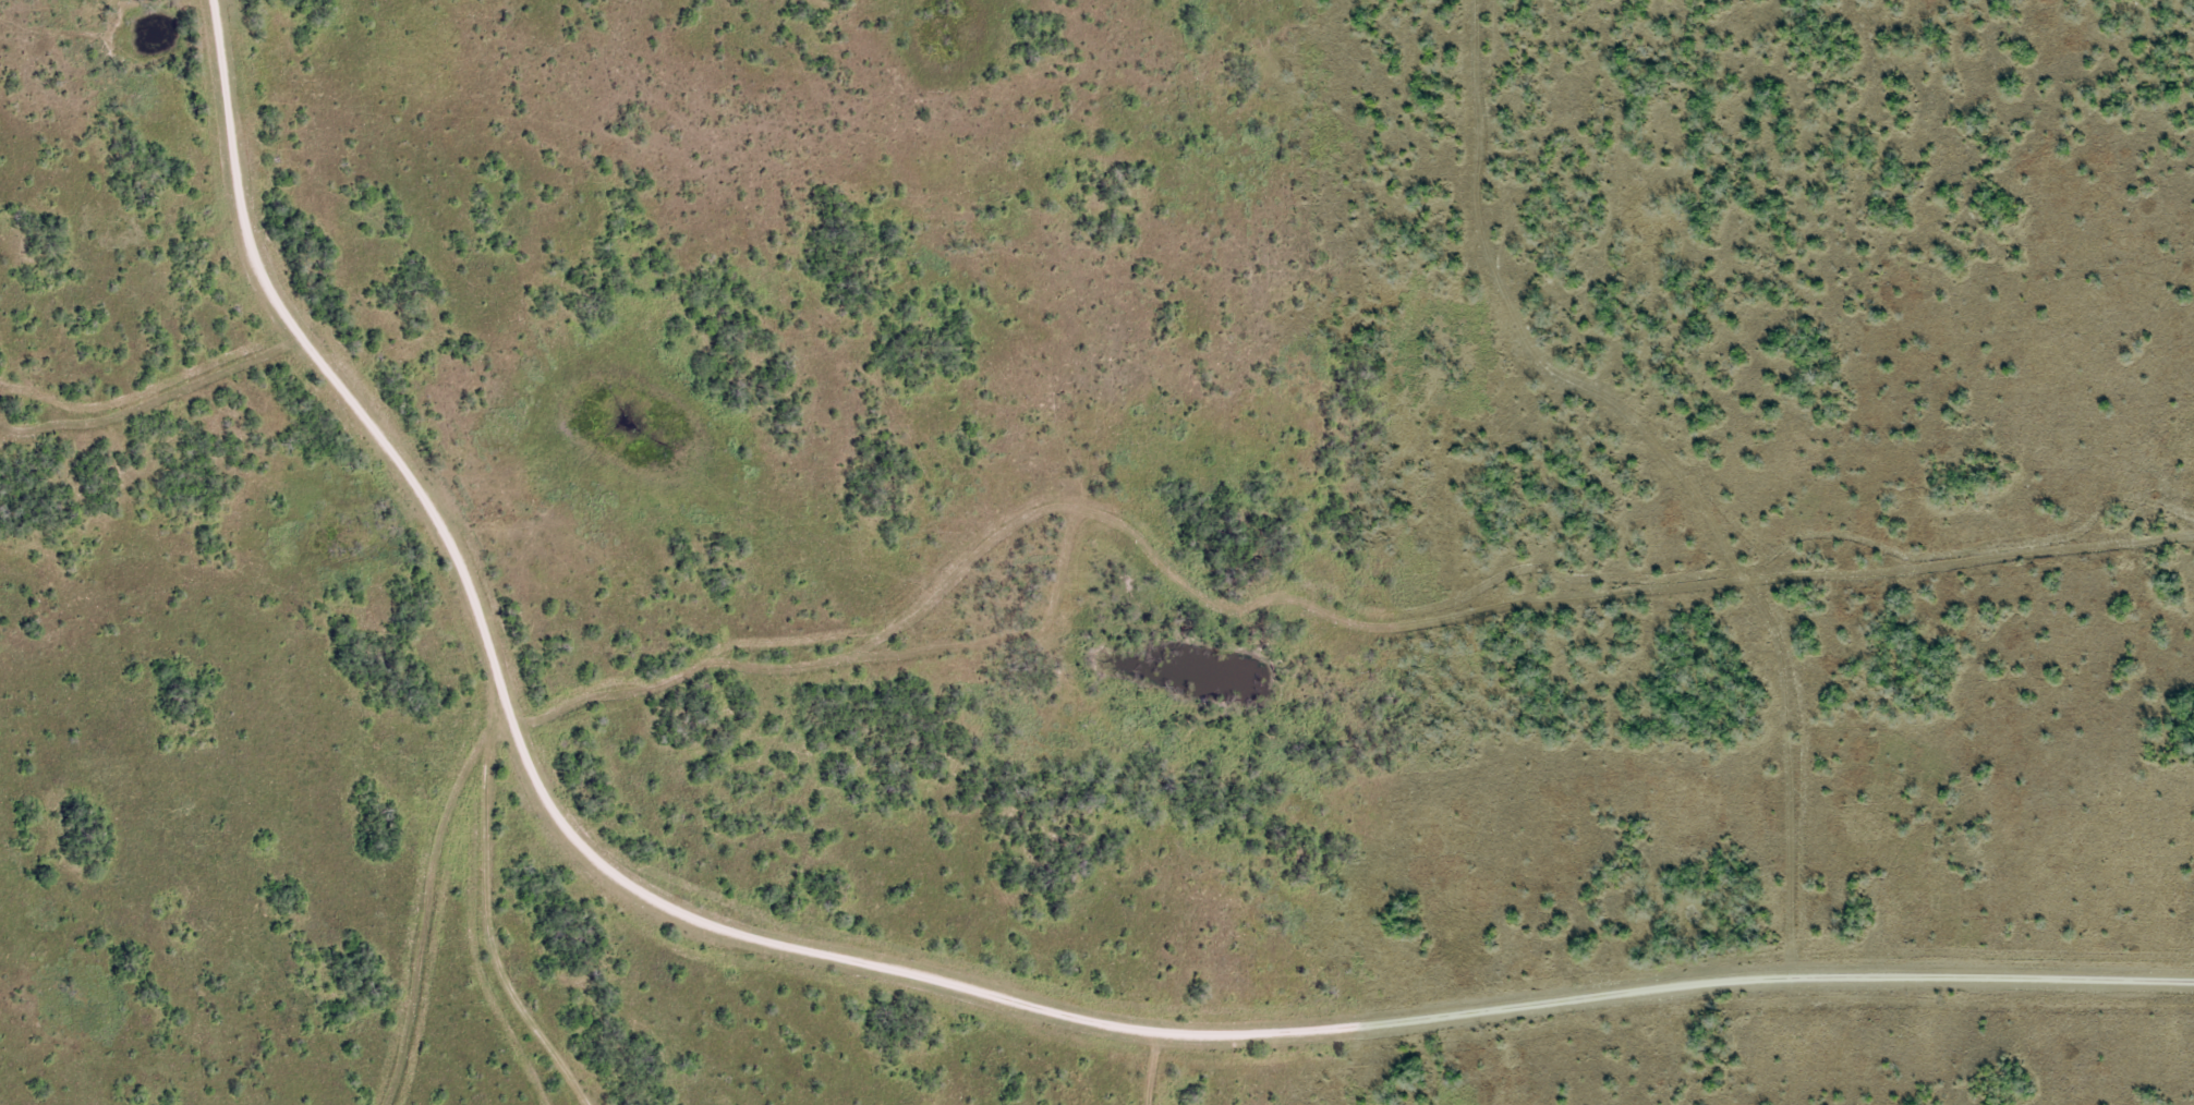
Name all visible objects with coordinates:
road: (466, 545)
road: (1312, 1049)
road: (1115, 1077)

